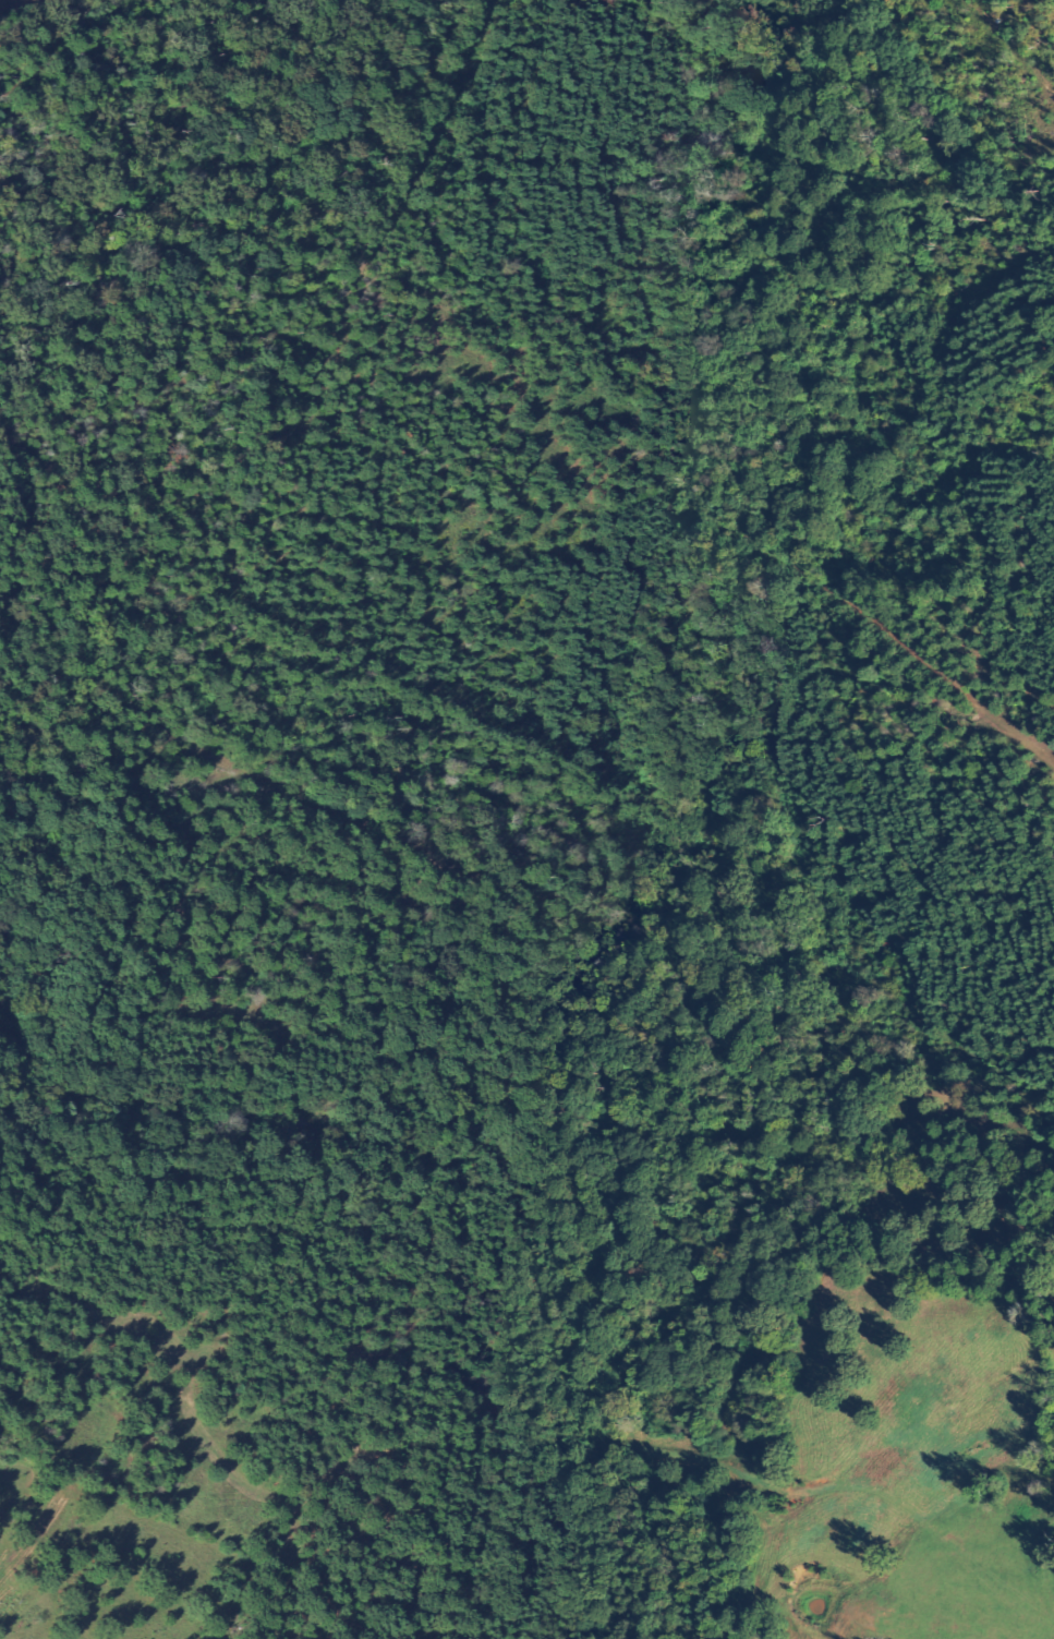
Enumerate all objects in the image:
park: (1047, 1282)

